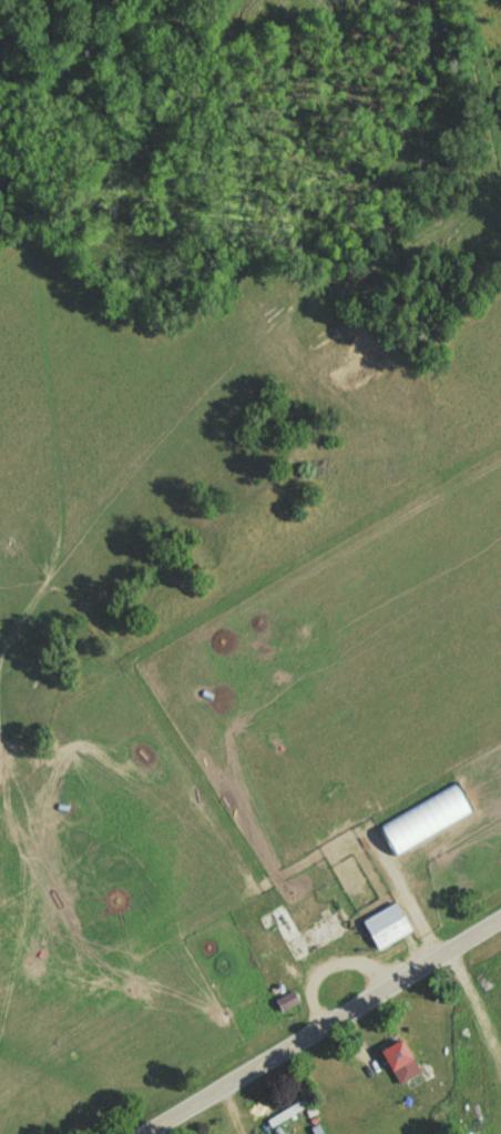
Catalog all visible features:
road: (470, 710)
building: (388, 929)
road: (323, 1024)
building: (400, 1059)
building: (287, 1116)

